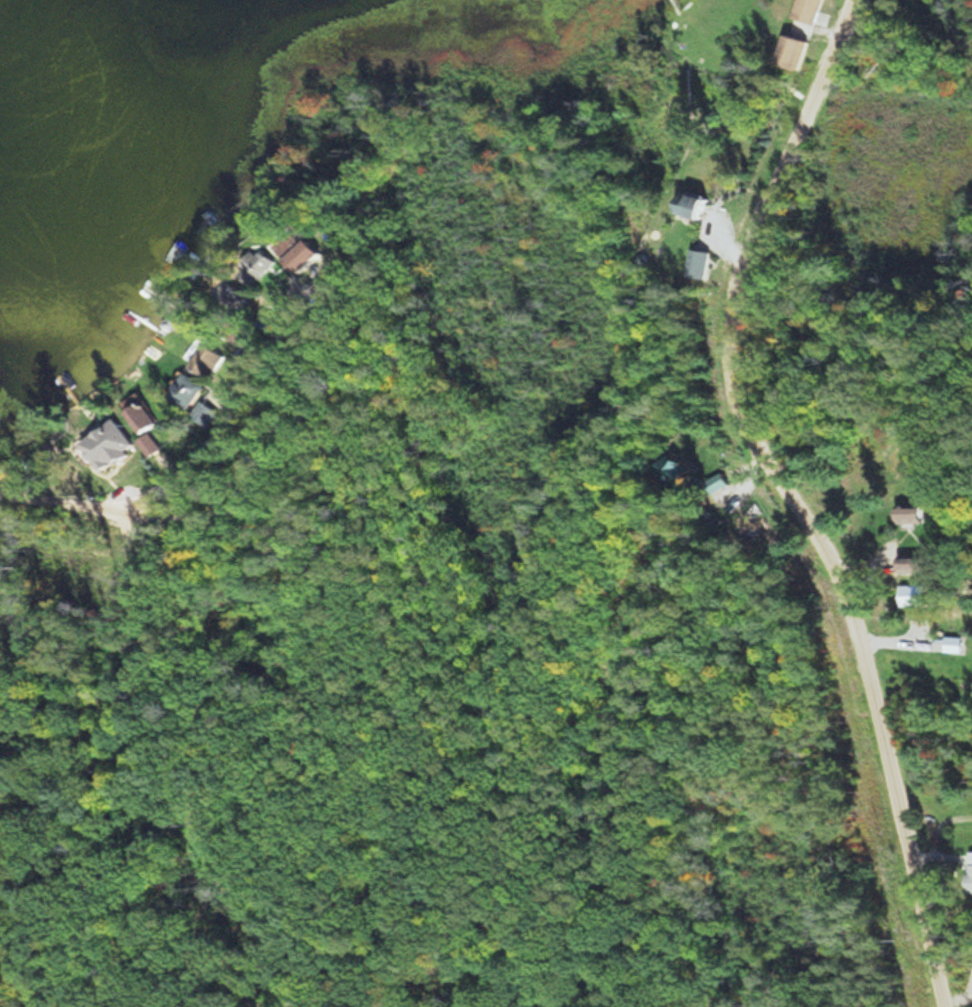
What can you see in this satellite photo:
building: (805, 10)
building: (790, 51)
building: (693, 204)
building: (307, 248)
building: (702, 264)
building: (266, 265)
building: (238, 294)
building: (207, 359)
building: (186, 391)
building: (140, 412)
building: (204, 413)
road: (143, 487)
building: (720, 489)
road: (807, 495)
building: (915, 511)
road: (430, 686)
building: (971, 870)

